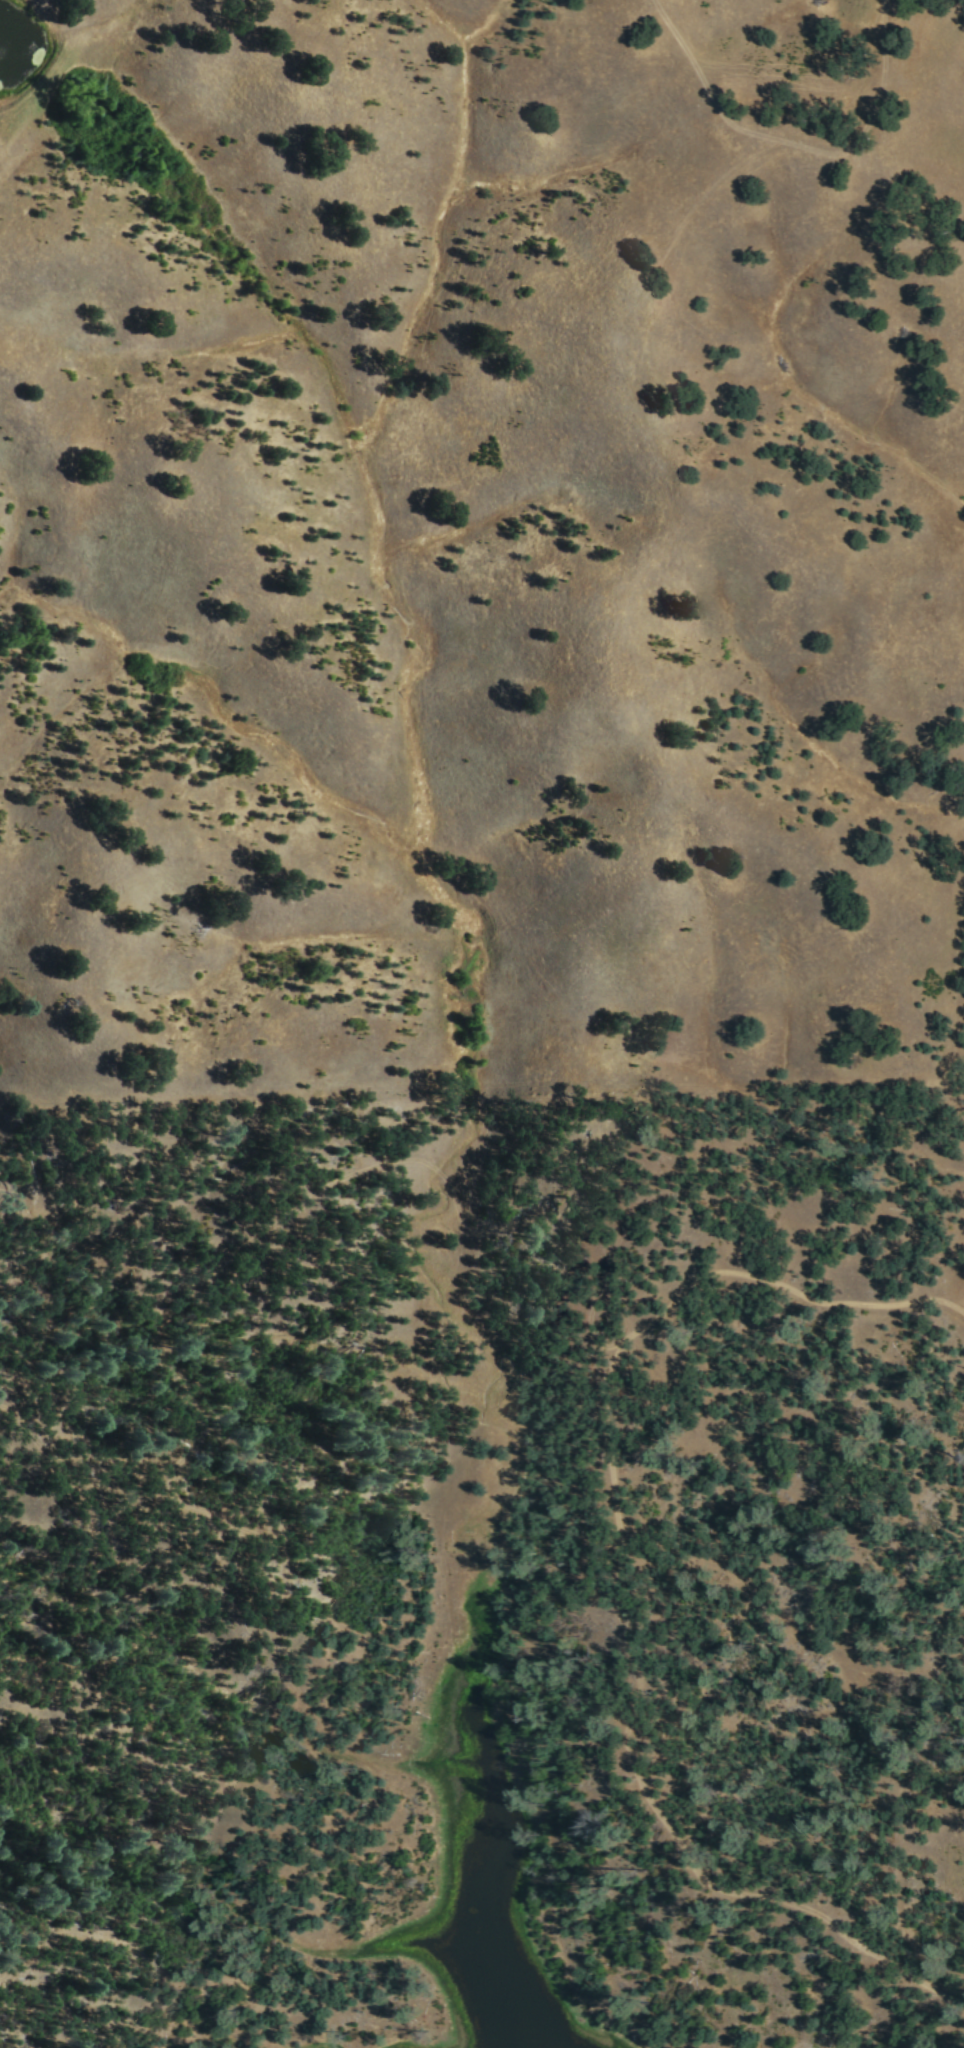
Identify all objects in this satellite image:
road: (794, 142)

